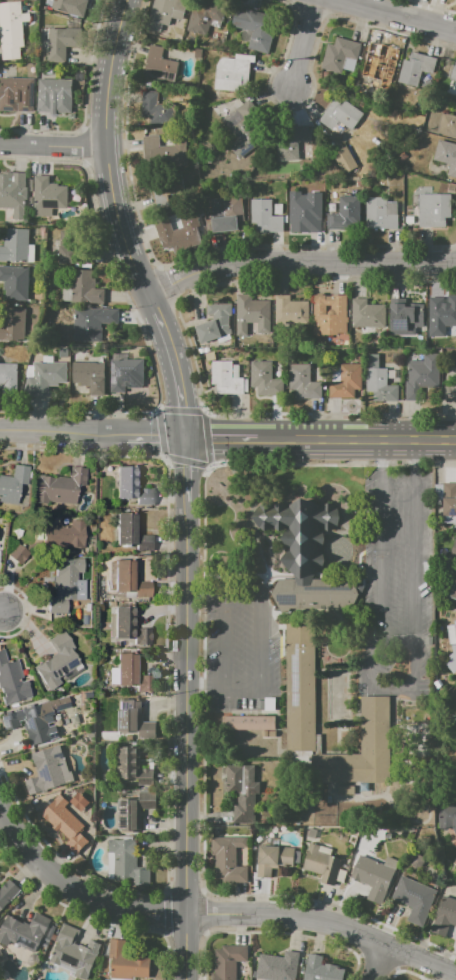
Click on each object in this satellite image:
building: (70, 6)
building: (45, 7)
building: (208, 12)
building: (165, 13)
road: (400, 15)
building: (12, 29)
building: (254, 30)
building: (59, 42)
road: (303, 42)
building: (227, 47)
building: (339, 54)
building: (381, 63)
building: (160, 65)
building: (416, 68)
building: (453, 72)
building: (231, 74)
building: (14, 91)
building: (54, 95)
building: (157, 109)
building: (232, 113)
building: (339, 114)
building: (373, 119)
building: (447, 124)
building: (244, 138)
building: (341, 141)
building: (292, 144)
road: (53, 147)
building: (162, 151)
building: (446, 155)
road: (108, 156)
building: (403, 157)
building: (366, 185)
building: (303, 190)
building: (14, 194)
building: (288, 194)
building: (334, 194)
building: (47, 196)
building: (332, 208)
building: (278, 209)
building: (434, 209)
building: (226, 213)
building: (345, 213)
building: (381, 213)
building: (304, 215)
building: (266, 216)
building: (410, 219)
building: (208, 223)
building: (179, 232)
building: (42, 236)
building: (17, 246)
building: (55, 247)
building: (75, 254)
road: (298, 261)
building: (15, 282)
building: (82, 288)
building: (291, 311)
building: (252, 313)
building: (330, 314)
building: (367, 314)
building: (440, 316)
building: (407, 318)
building: (215, 322)
building: (62, 323)
building: (92, 323)
building: (13, 324)
building: (448, 330)
building: (224, 338)
building: (435, 341)
building: (207, 349)
building: (440, 351)
building: (65, 355)
building: (208, 355)
building: (47, 358)
building: (417, 358)
building: (338, 368)
building: (30, 370)
road: (177, 371)
building: (126, 373)
building: (391, 374)
building: (421, 375)
building: (90, 376)
building: (336, 376)
building: (45, 377)
building: (228, 378)
building: (263, 378)
building: (8, 379)
building: (378, 380)
building: (347, 381)
building: (303, 382)
building: (450, 392)
road: (94, 435)
traffic signals: (189, 439)
road: (223, 439)
road: (357, 439)
road: (414, 451)
road: (380, 452)
road: (189, 477)
building: (15, 486)
building: (60, 487)
building: (107, 487)
building: (133, 487)
building: (446, 497)
building: (450, 519)
building: (132, 532)
building: (65, 535)
road: (380, 547)
building: (452, 548)
road: (414, 552)
building: (17, 553)
building: (305, 556)
building: (127, 580)
parking lot: (395, 583)
building: (66, 584)
building: (453, 589)
road: (224, 592)
road: (0, 612)
building: (455, 624)
building: (129, 625)
building: (450, 628)
road: (396, 636)
road: (224, 639)
road: (260, 639)
building: (428, 641)
parking lot: (239, 647)
building: (58, 662)
building: (130, 673)
building: (12, 680)
building: (301, 686)
road: (383, 686)
road: (224, 687)
building: (88, 695)
building: (75, 700)
building: (270, 703)
building: (259, 704)
building: (133, 718)
building: (37, 720)
building: (248, 723)
building: (90, 734)
road: (188, 747)
building: (361, 747)
building: (133, 766)
building: (48, 771)
building: (450, 780)
building: (233, 790)
building: (135, 809)
building: (447, 817)
building: (263, 821)
building: (65, 823)
building: (217, 830)
building: (89, 832)
building: (311, 832)
building: (387, 834)
building: (266, 840)
building: (297, 856)
building: (227, 859)
building: (273, 859)
building: (125, 862)
building: (390, 862)
building: (321, 864)
road: (53, 873)
building: (372, 877)
building: (7, 893)
building: (414, 899)
road: (158, 913)
road: (214, 914)
building: (444, 916)
building: (24, 931)
road: (350, 932)
building: (72, 952)
building: (1, 955)
building: (126, 962)
building: (227, 962)
road: (379, 963)
building: (278, 966)
building: (321, 969)

